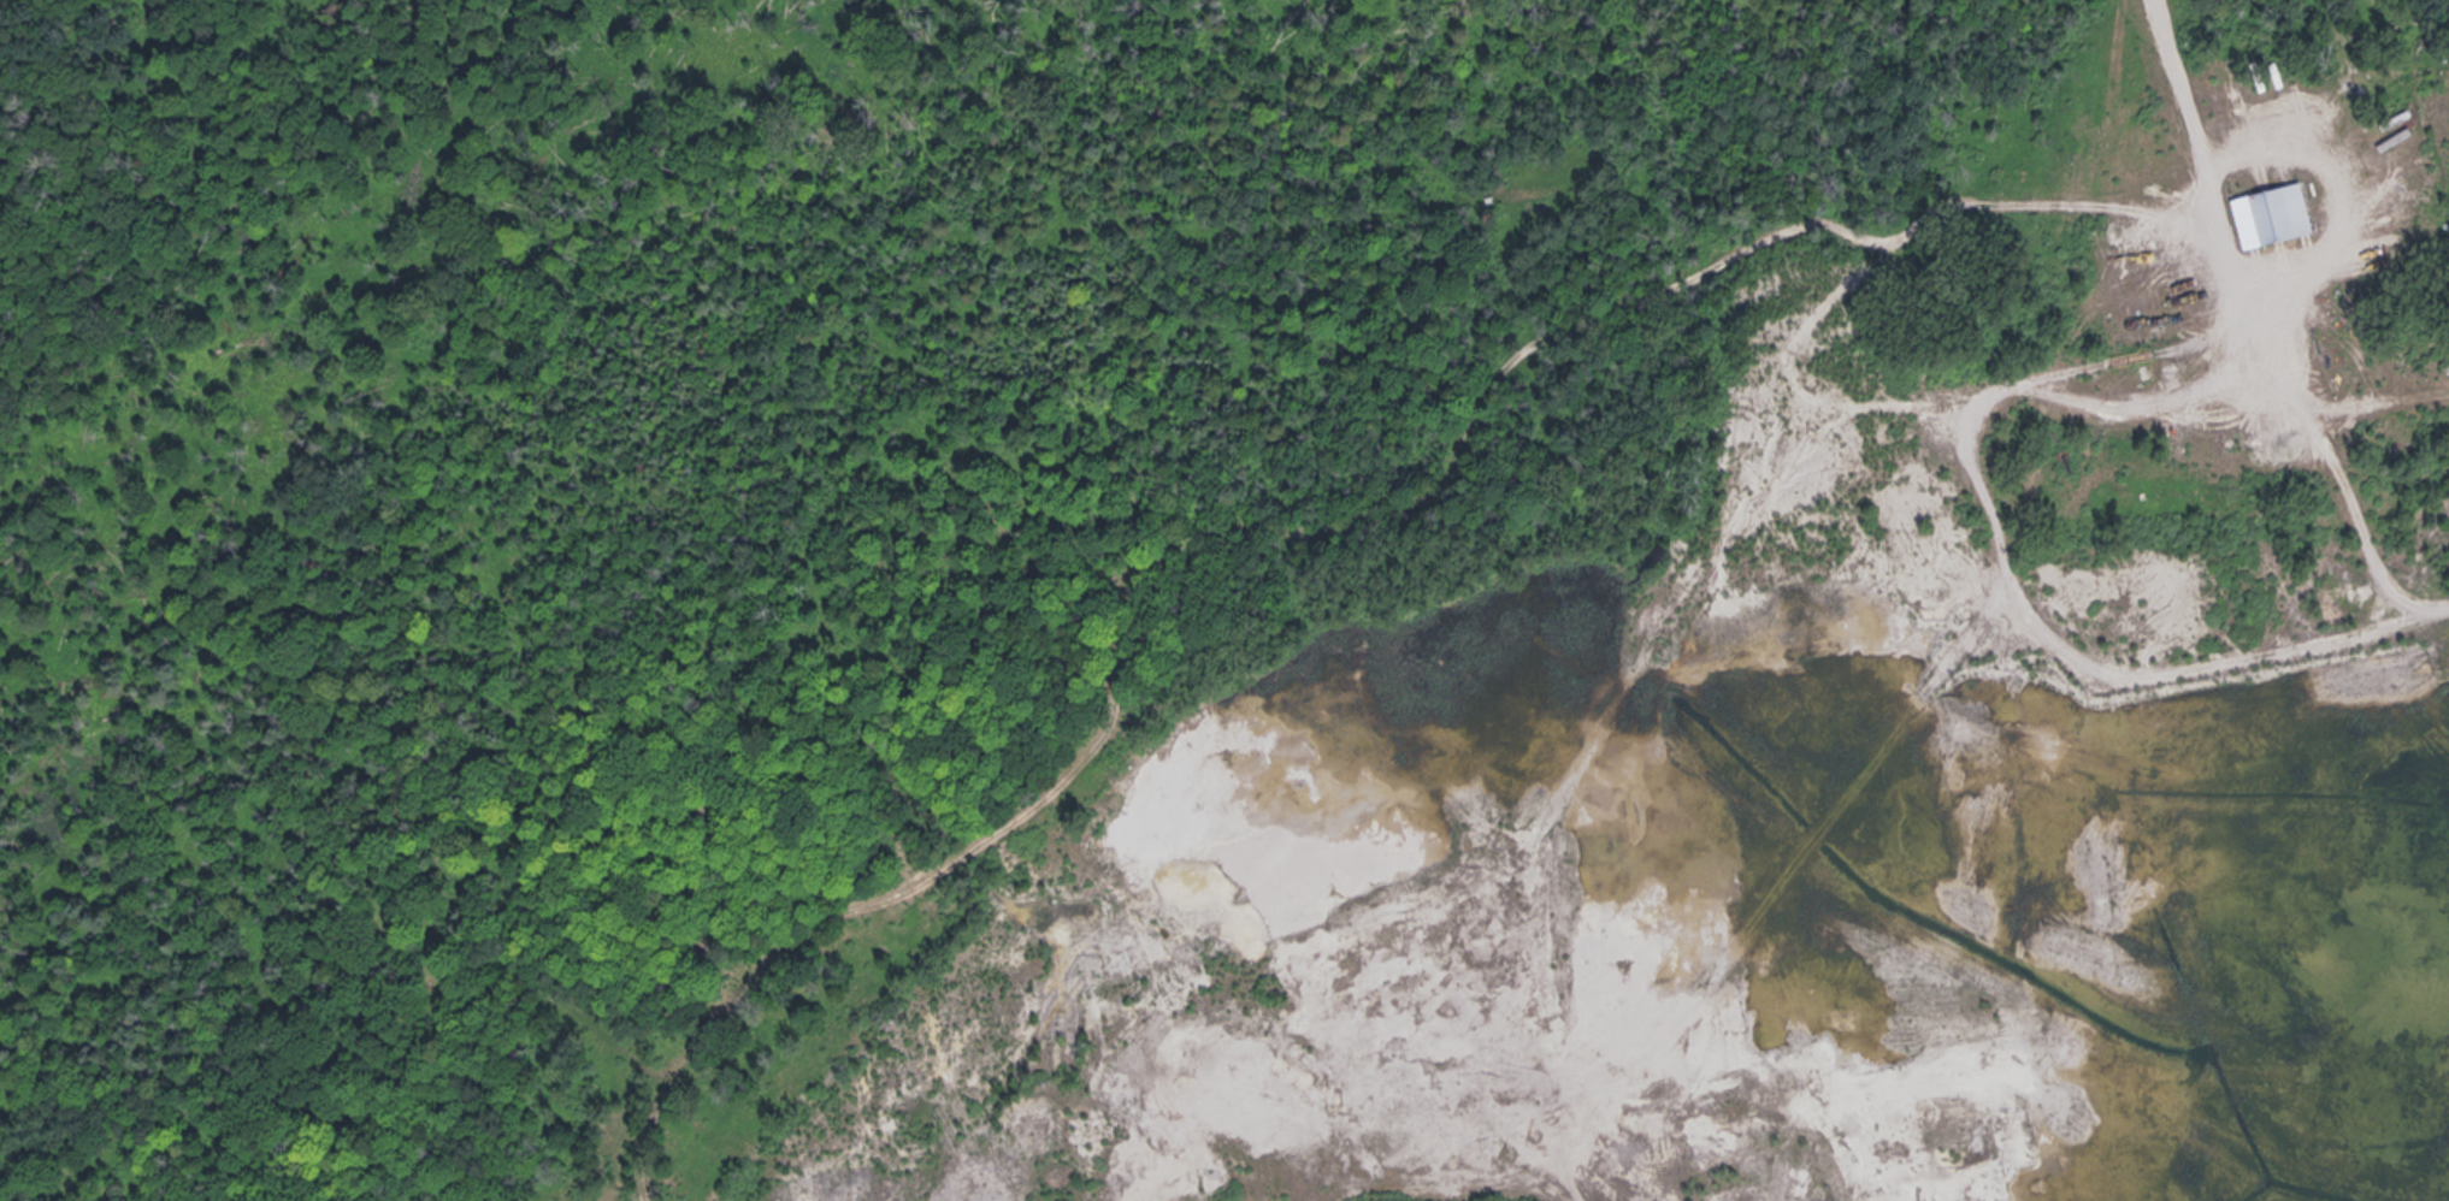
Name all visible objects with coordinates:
building: (2268, 214)
road: (2267, 324)

